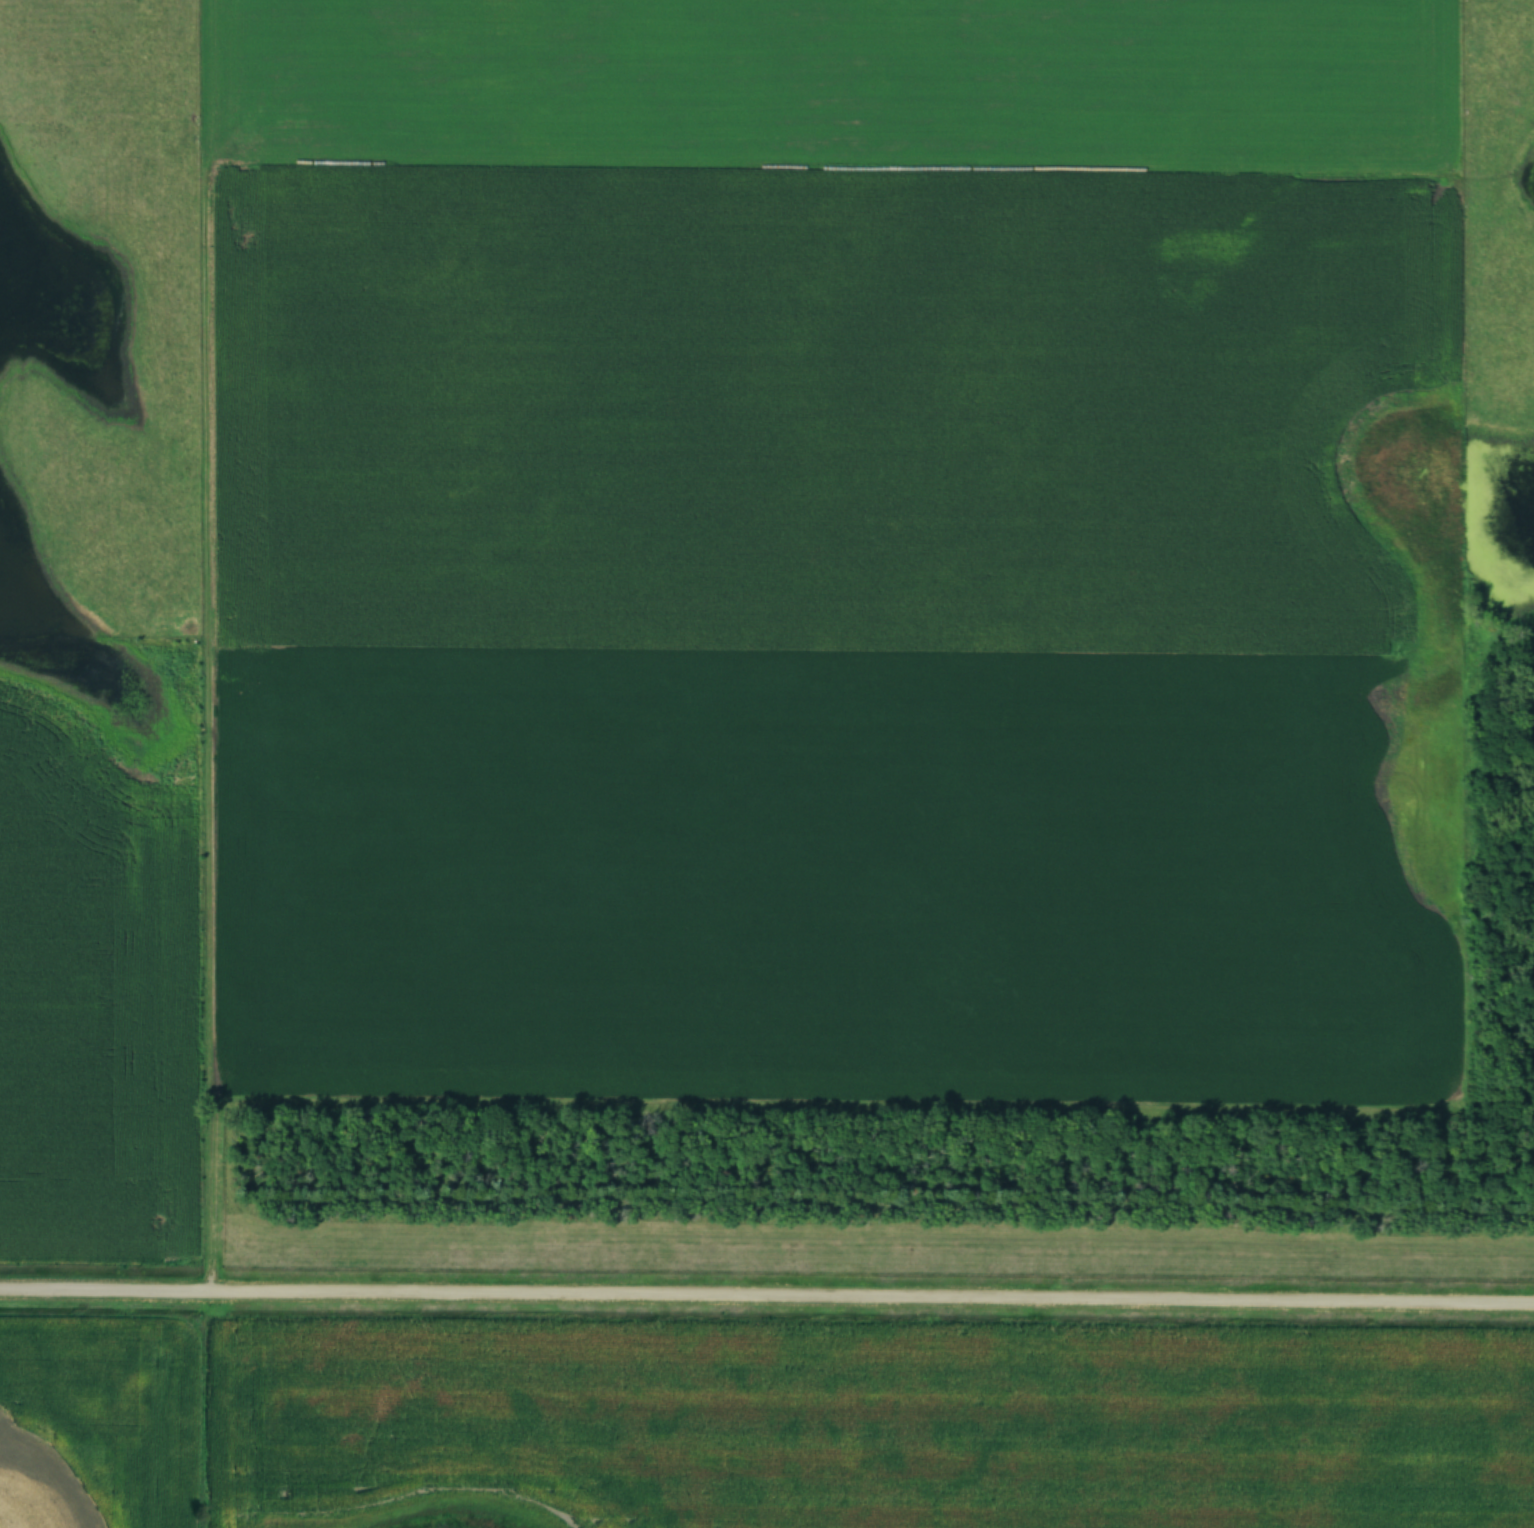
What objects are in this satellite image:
crop: (812, 89)
crop: (856, 870)
crop: (94, 953)
road: (767, 1294)

